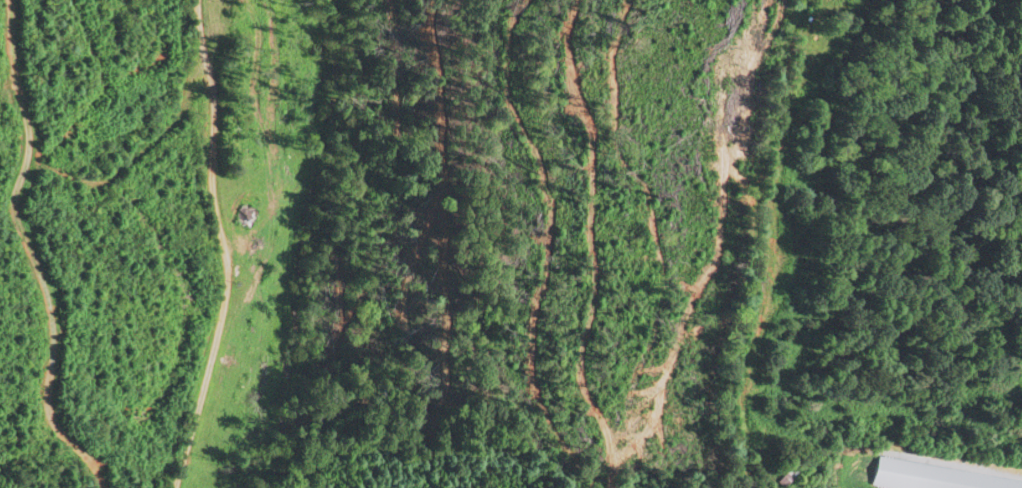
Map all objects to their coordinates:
road: (225, 249)
building: (787, 479)

